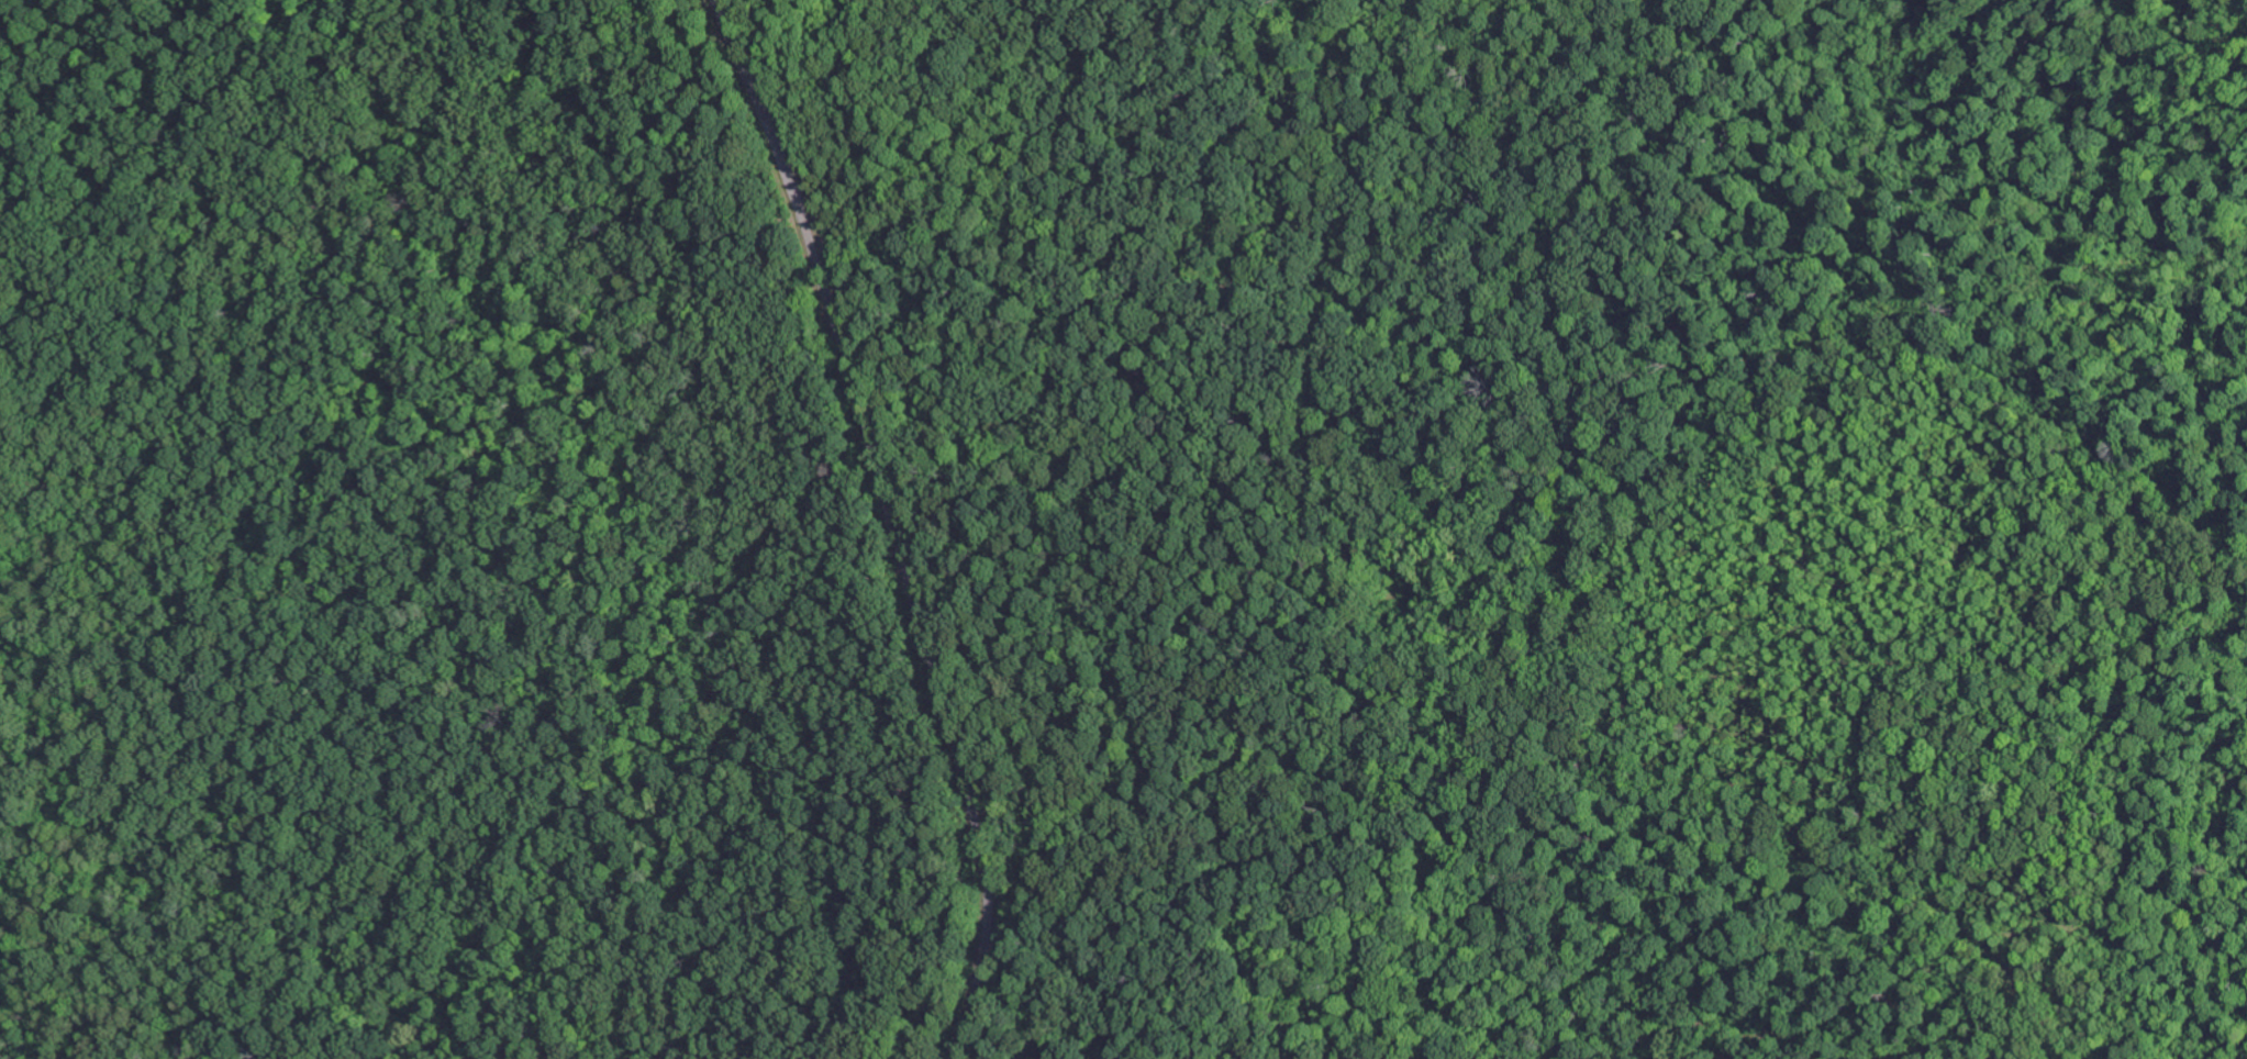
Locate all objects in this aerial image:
road: (892, 523)

